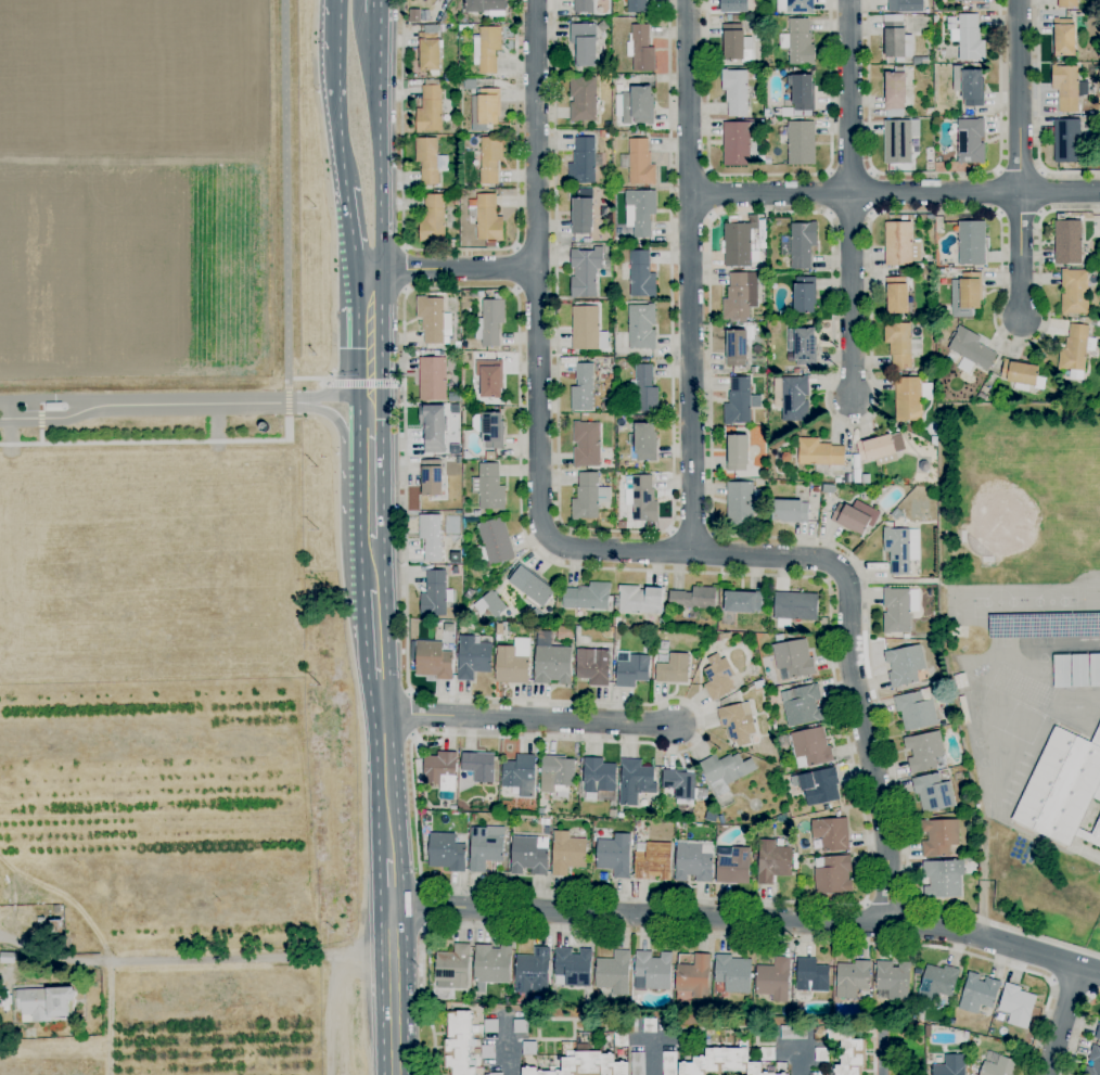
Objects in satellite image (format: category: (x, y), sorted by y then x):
building: (973, 0)
building: (1067, 3)
road: (376, 4)
building: (485, 5)
building: (737, 5)
building: (795, 5)
building: (906, 5)
building: (584, 7)
building: (637, 7)
building: (413, 15)
building: (732, 17)
building: (445, 18)
building: (935, 18)
building: (602, 26)
building: (465, 27)
road: (336, 28)
building: (1063, 37)
building: (896, 38)
building: (970, 38)
building: (798, 42)
road: (378, 43)
building: (737, 43)
building: (584, 44)
building: (488, 49)
building: (641, 49)
building: (430, 53)
building: (920, 61)
building: (470, 85)
building: (969, 86)
building: (1069, 87)
building: (736, 91)
building: (803, 92)
building: (895, 92)
road: (849, 95)
road: (1020, 95)
building: (583, 99)
building: (642, 104)
building: (430, 107)
building: (485, 107)
building: (930, 111)
road: (1037, 114)
road: (337, 123)
road: (515, 125)
building: (609, 126)
building: (604, 133)
building: (899, 140)
building: (971, 141)
building: (1066, 141)
building: (738, 142)
building: (802, 143)
building: (430, 159)
building: (490, 159)
building: (584, 161)
building: (639, 163)
road: (1021, 171)
road: (381, 174)
road: (935, 174)
road: (768, 175)
road: (401, 178)
road: (894, 192)
road: (346, 194)
road: (711, 195)
building: (456, 201)
road: (285, 202)
building: (641, 212)
building: (581, 213)
road: (731, 213)
building: (433, 219)
building: (486, 219)
road: (350, 240)
building: (616, 240)
building: (784, 240)
building: (587, 241)
building: (1067, 241)
building: (971, 242)
building: (802, 243)
building: (741, 244)
building: (900, 244)
road: (1021, 253)
road: (453, 268)
road: (515, 269)
road: (406, 270)
building: (585, 271)
building: (944, 271)
building: (641, 276)
road: (690, 276)
building: (1074, 292)
building: (805, 295)
road: (852, 295)
building: (897, 295)
building: (967, 295)
building: (740, 297)
building: (431, 318)
building: (1090, 321)
building: (489, 322)
building: (641, 327)
building: (587, 329)
road: (374, 333)
building: (900, 344)
building: (803, 345)
building: (736, 347)
building: (971, 348)
building: (1074, 351)
building: (1020, 374)
building: (432, 376)
building: (489, 377)
building: (583, 388)
building: (644, 388)
building: (985, 389)
building: (983, 396)
road: (334, 397)
building: (792, 398)
building: (908, 399)
toll booth: (50, 400)
road: (148, 401)
building: (738, 401)
building: (604, 404)
road: (40, 422)
road: (338, 424)
building: (433, 427)
road: (374, 428)
building: (489, 428)
building: (909, 428)
building: (643, 441)
road: (163, 443)
building: (586, 444)
building: (881, 449)
building: (737, 452)
building: (819, 452)
building: (490, 456)
building: (459, 459)
building: (856, 469)
building: (431, 477)
building: (866, 478)
building: (489, 487)
building: (828, 488)
building: (816, 489)
building: (588, 497)
building: (641, 498)
building: (740, 503)
building: (790, 511)
road: (375, 515)
building: (855, 516)
building: (460, 523)
building: (622, 525)
road: (616, 532)
road: (691, 534)
building: (432, 536)
building: (494, 541)
road: (604, 549)
building: (900, 549)
park: (174, 553)
building: (455, 571)
building: (532, 587)
building: (435, 594)
building: (587, 597)
building: (640, 599)
building: (693, 599)
building: (742, 601)
building: (493, 603)
building: (794, 607)
building: (898, 609)
building: (564, 632)
building: (906, 637)
building: (473, 657)
building: (793, 660)
building: (433, 661)
building: (551, 661)
building: (512, 662)
building: (905, 665)
building: (593, 666)
building: (630, 668)
building: (673, 669)
building: (1079, 670)
building: (1095, 670)
building: (1062, 671)
building: (717, 677)
building: (958, 681)
building: (802, 705)
building: (916, 709)
road: (528, 720)
building: (738, 722)
road: (385, 738)
building: (782, 740)
building: (810, 747)
building: (923, 751)
building: (478, 766)
building: (725, 771)
building: (440, 772)
building: (520, 775)
building: (557, 776)
building: (598, 777)
building: (635, 781)
building: (680, 784)
building: (820, 786)
building: (1063, 789)
building: (933, 793)
building: (452, 808)
building: (541, 810)
building: (612, 812)
building: (622, 816)
building: (472, 817)
building: (547, 821)
building: (637, 823)
building: (547, 831)
building: (831, 834)
building: (939, 837)
building: (974, 847)
building: (484, 849)
building: (446, 853)
building: (567, 854)
building: (529, 855)
building: (615, 855)
building: (652, 860)
building: (775, 861)
building: (693, 862)
building: (732, 865)
building: (832, 876)
crop: (154, 879)
building: (943, 879)
road: (559, 892)
road: (887, 900)
road: (424, 907)
building: (56, 909)
building: (40, 920)
road: (749, 920)
building: (56, 926)
road: (667, 934)
building: (7, 958)
road: (192, 959)
building: (493, 964)
building: (452, 968)
building: (573, 968)
building: (652, 971)
building: (533, 972)
building: (614, 973)
building: (732, 974)
building: (813, 975)
building: (693, 977)
building: (852, 978)
building: (773, 980)
building: (894, 980)
road: (334, 983)
building: (937, 983)
road: (392, 989)
building: (979, 994)
building: (44, 1003)
building: (1016, 1004)
building: (794, 1009)
road: (334, 1012)
road: (1062, 1021)
building: (648, 1025)
building: (490, 1026)
building: (520, 1026)
road: (1040, 1028)
road: (1078, 1029)
building: (729, 1032)
building: (708, 1033)
building: (793, 1033)
building: (1098, 1033)
building: (965, 1035)
building: (621, 1039)
building: (460, 1044)
building: (564, 1044)
building: (528, 1048)
building: (847, 1051)
building: (487, 1052)
road: (509, 1052)
building: (767, 1054)
building: (821, 1054)
building: (539, 1057)
road: (882, 1058)
road: (650, 1061)
road: (798, 1061)
building: (721, 1062)
building: (1093, 1062)
building: (637, 1063)
building: (669, 1063)
building: (585, 1064)
building: (951, 1065)
building: (999, 1067)
building: (486, 1074)
building: (496, 1074)
building: (783, 1074)

